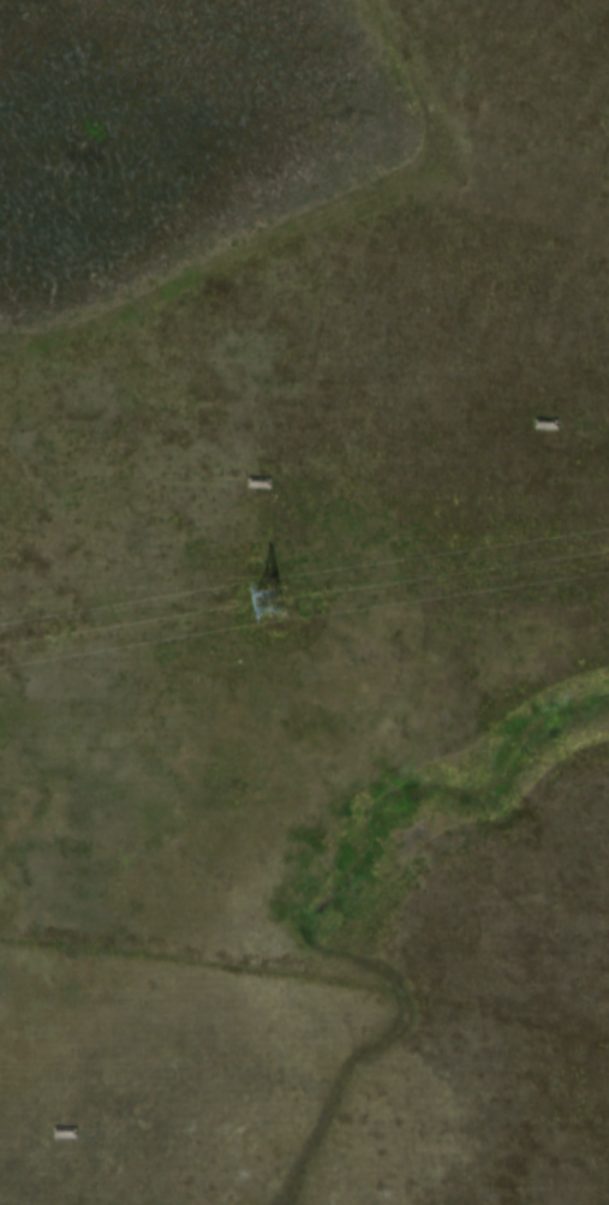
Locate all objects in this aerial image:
power tower: (270, 604)

